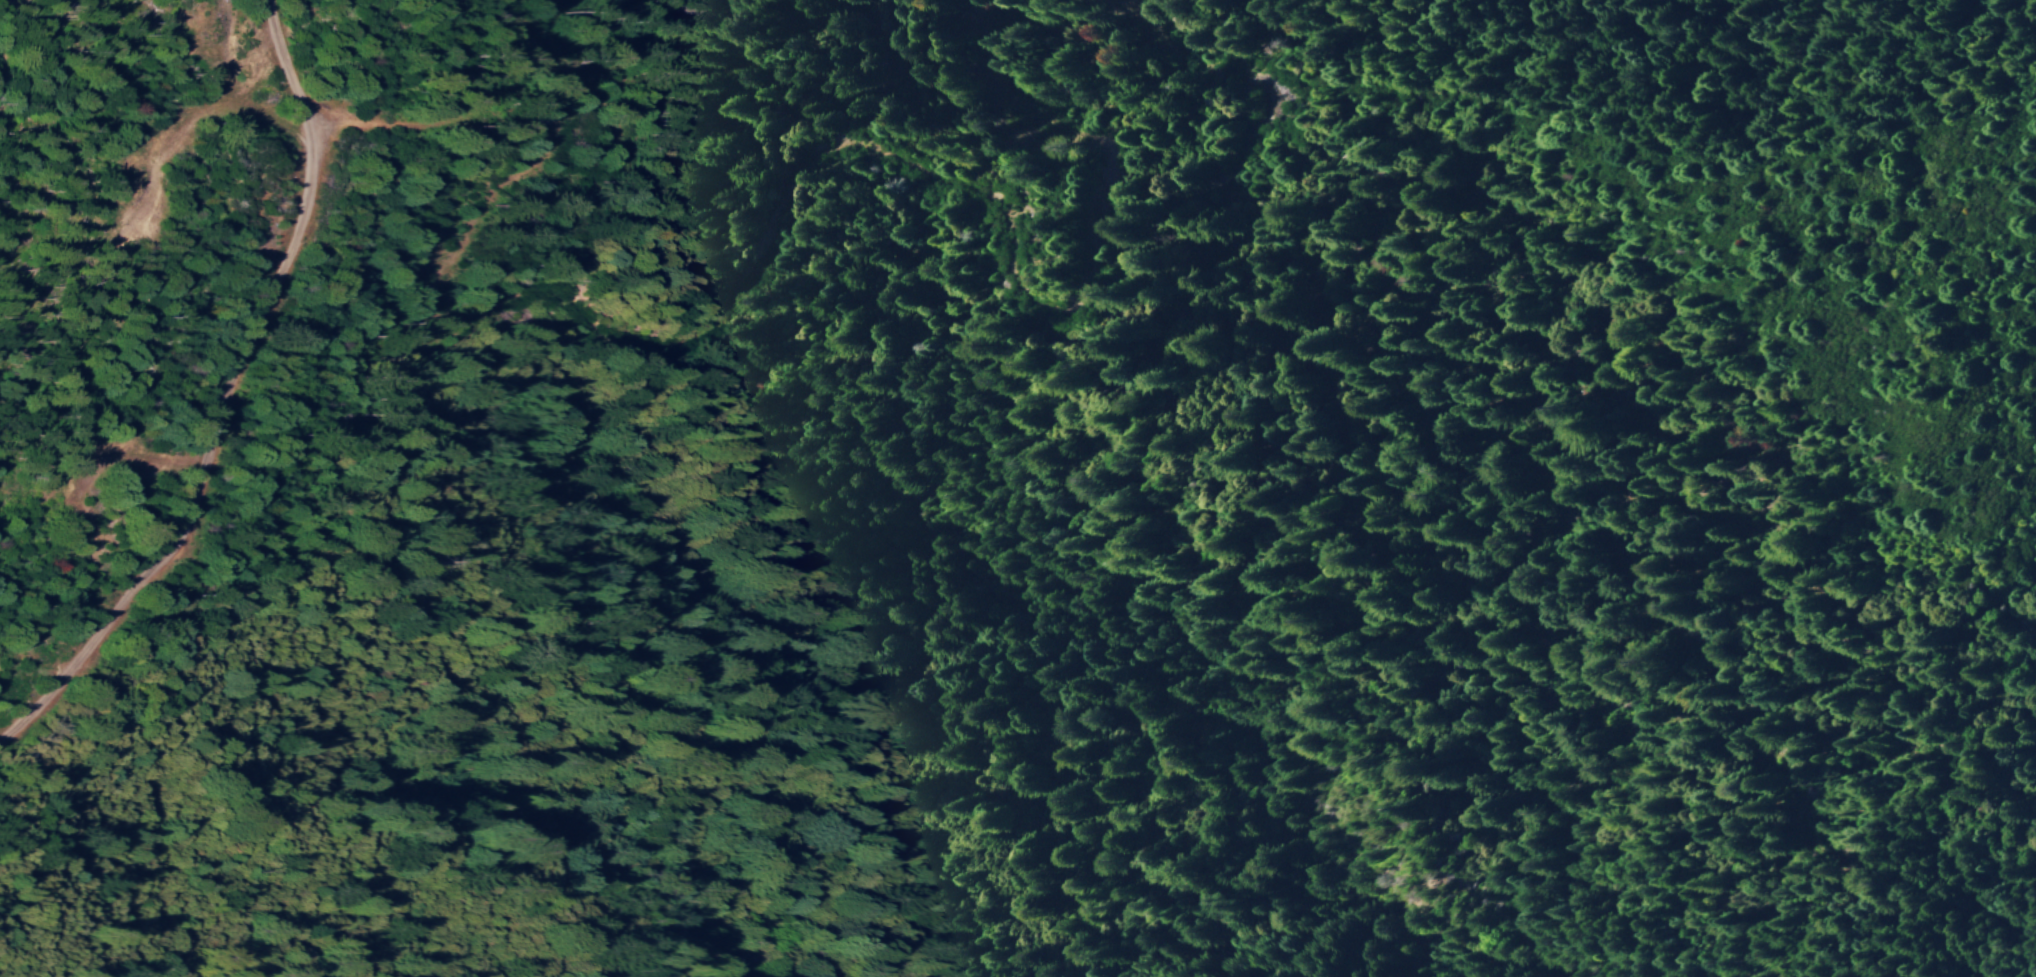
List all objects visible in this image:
road: (224, 399)

